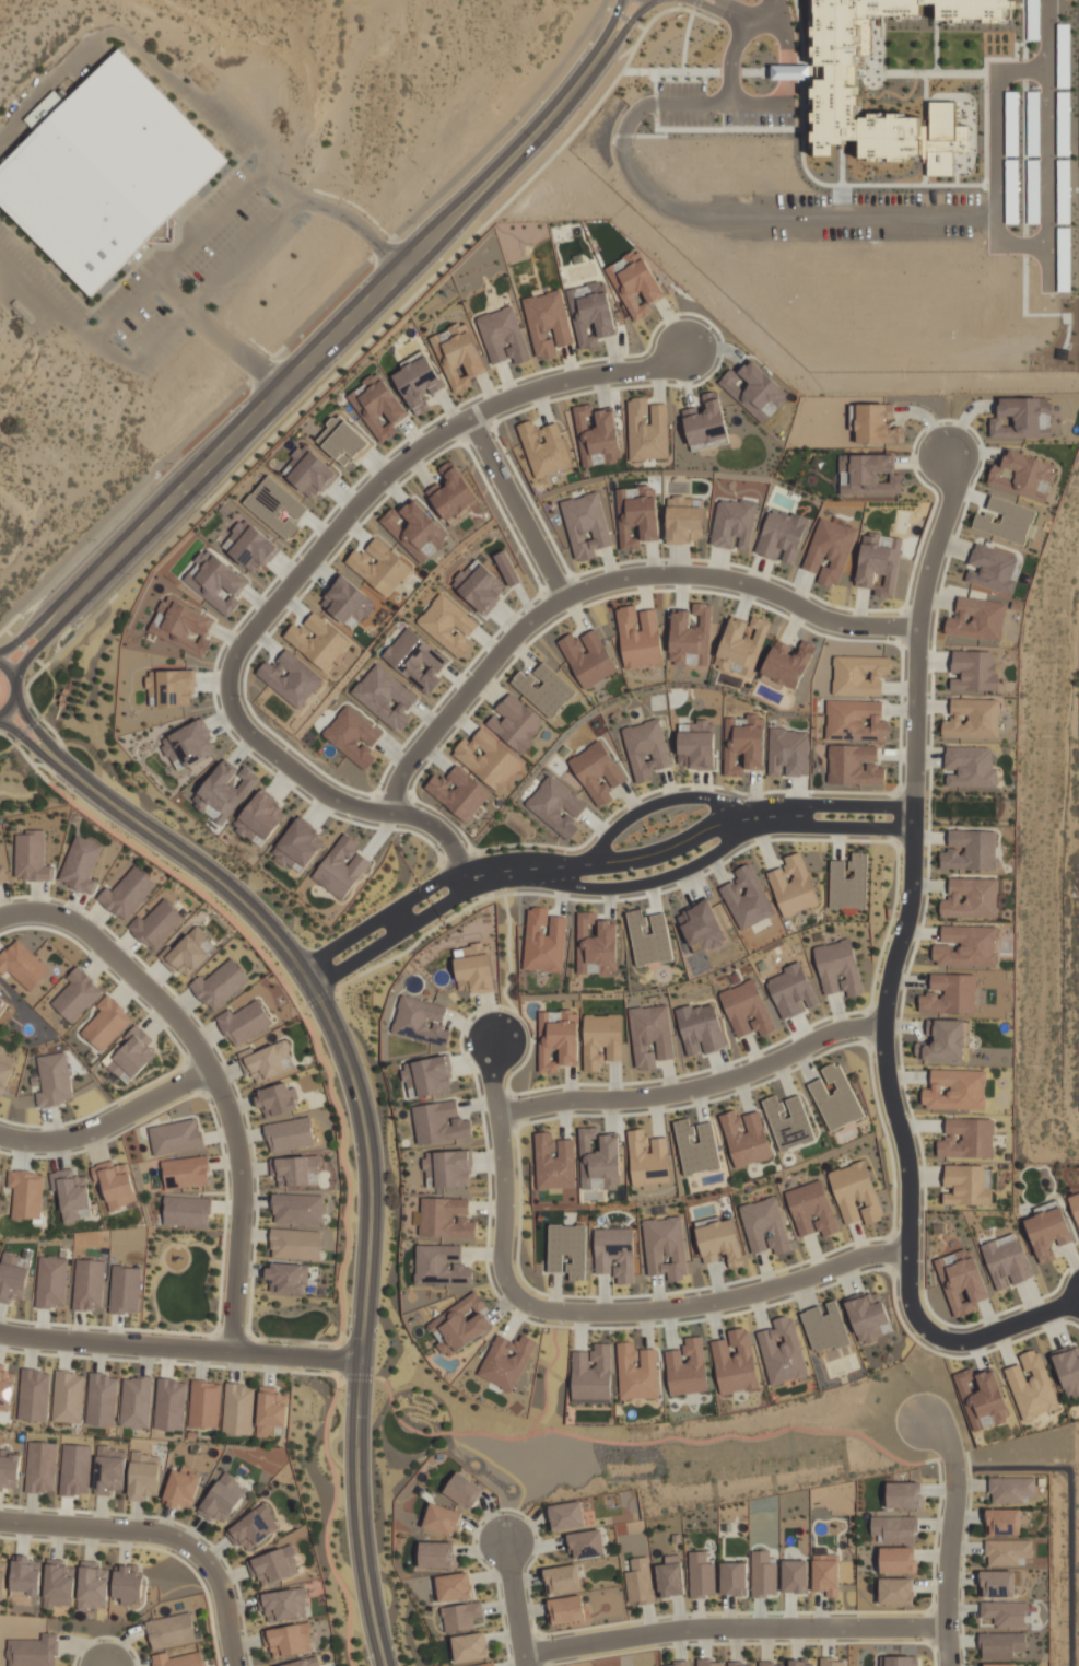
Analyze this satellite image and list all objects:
road: (693, 4)
road: (771, 8)
road: (746, 9)
road: (719, 12)
building: (1033, 12)
road: (655, 14)
road: (621, 16)
road: (607, 26)
road: (594, 31)
road: (621, 31)
road: (617, 56)
building: (789, 72)
building: (854, 92)
building: (44, 109)
building: (1011, 124)
building: (1033, 124)
building: (1063, 124)
road: (1045, 138)
building: (942, 139)
building: (104, 177)
building: (1011, 191)
building: (1033, 191)
building: (1063, 191)
road: (770, 215)
road: (200, 228)
road: (1007, 243)
building: (634, 283)
building: (590, 314)
road: (307, 319)
building: (547, 323)
road: (330, 324)
building: (503, 336)
road: (342, 342)
road: (352, 353)
building: (458, 354)
building: (418, 383)
building: (753, 391)
building: (378, 406)
building: (1025, 418)
building: (705, 422)
building: (646, 430)
building: (597, 436)
building: (342, 441)
building: (544, 448)
building: (308, 473)
building: (869, 475)
building: (1022, 476)
building: (453, 492)
building: (274, 506)
road: (520, 506)
building: (636, 515)
building: (683, 521)
building: (1006, 521)
building: (732, 524)
building: (585, 525)
building: (415, 531)
building: (781, 535)
building: (249, 547)
building: (829, 551)
building: (879, 563)
building: (379, 567)
building: (506, 568)
building: (992, 569)
road: (294, 579)
road: (606, 581)
building: (214, 582)
building: (479, 585)
road: (42, 602)
building: (348, 602)
building: (976, 619)
road: (33, 624)
building: (447, 625)
building: (181, 627)
road: (63, 630)
building: (690, 637)
building: (638, 638)
road: (917, 639)
building: (317, 641)
road: (40, 642)
building: (741, 645)
road: (21, 646)
building: (587, 657)
building: (415, 660)
building: (786, 664)
building: (974, 671)
building: (858, 675)
building: (291, 678)
building: (172, 687)
road: (14, 689)
building: (543, 689)
road: (51, 691)
road: (24, 692)
building: (384, 697)
building: (972, 719)
building: (855, 721)
building: (516, 723)
road: (23, 729)
road: (35, 730)
building: (352, 736)
building: (742, 744)
building: (188, 745)
building: (695, 745)
road: (31, 746)
road: (15, 747)
road: (59, 748)
building: (645, 749)
building: (787, 753)
building: (488, 759)
building: (853, 765)
building: (969, 766)
road: (46, 769)
road: (72, 771)
building: (597, 772)
road: (74, 779)
building: (224, 791)
building: (459, 792)
road: (660, 803)
road: (846, 803)
building: (555, 806)
building: (259, 818)
road: (847, 828)
building: (297, 846)
building: (969, 850)
road: (658, 851)
building: (31, 857)
building: (80, 864)
building: (341, 867)
building: (2, 877)
road: (646, 883)
building: (847, 883)
building: (793, 886)
building: (127, 893)
building: (747, 898)
building: (971, 898)
road: (407, 900)
road: (418, 922)
building: (157, 923)
building: (701, 928)
building: (648, 937)
building: (543, 942)
building: (596, 946)
building: (967, 946)
building: (190, 952)
building: (22, 965)
building: (473, 968)
building: (837, 968)
building: (220, 983)
building: (791, 991)
building: (77, 994)
building: (950, 994)
building: (1, 1004)
building: (746, 1009)
building: (420, 1021)
building: (244, 1022)
building: (106, 1023)
building: (700, 1028)
building: (649, 1035)
building: (558, 1038)
building: (601, 1040)
building: (942, 1040)
building: (130, 1055)
building: (267, 1061)
building: (5, 1070)
road: (212, 1073)
building: (432, 1075)
building: (54, 1080)
building: (409, 1080)
road: (699, 1087)
building: (955, 1090)
building: (835, 1097)
building: (275, 1099)
building: (787, 1121)
building: (439, 1122)
road: (109, 1123)
building: (289, 1134)
building: (175, 1137)
building: (744, 1138)
building: (966, 1139)
building: (695, 1147)
road: (912, 1156)
building: (648, 1158)
building: (599, 1161)
building: (554, 1162)
road: (365, 1168)
building: (447, 1168)
building: (0, 1170)
building: (297, 1170)
building: (185, 1173)
building: (114, 1184)
building: (965, 1185)
building: (25, 1193)
building: (70, 1193)
building: (855, 1193)
building: (1075, 1207)
building: (297, 1208)
building: (811, 1209)
building: (186, 1211)
building: (445, 1218)
building: (765, 1227)
building: (1047, 1233)
building: (719, 1243)
building: (294, 1244)
building: (665, 1247)
building: (566, 1250)
building: (613, 1254)
building: (1005, 1260)
building: (441, 1265)
building: (11, 1278)
building: (288, 1278)
building: (961, 1281)
building: (50, 1282)
building: (87, 1285)
building: (124, 1290)
road: (589, 1309)
building: (868, 1316)
building: (459, 1325)
building: (824, 1327)
road: (178, 1350)
building: (782, 1351)
building: (506, 1361)
building: (735, 1362)
building: (687, 1367)
building: (1068, 1368)
building: (636, 1372)
building: (591, 1375)
building: (1031, 1385)
building: (5, 1388)
building: (34, 1395)
building: (68, 1397)
building: (983, 1398)
building: (102, 1399)
building: (136, 1402)
building: (169, 1403)
building: (204, 1403)
building: (237, 1409)
building: (270, 1410)
building: (39, 1468)
building: (9, 1469)
building: (74, 1469)
building: (108, 1470)
building: (143, 1476)
building: (181, 1487)
building: (1011, 1490)
building: (462, 1491)
building: (904, 1494)
building: (222, 1499)
street lamp: (504, 1512)
building: (566, 1516)
building: (443, 1518)
building: (1002, 1522)
building: (253, 1527)
building: (893, 1528)
road: (162, 1534)
road: (951, 1538)
building: (586, 1543)
street lamp: (172, 1550)
building: (1008, 1552)
building: (437, 1554)
building: (896, 1560)
building: (275, 1565)
building: (762, 1574)
building: (825, 1574)
building: (700, 1575)
building: (24, 1576)
building: (669, 1576)
building: (794, 1576)
building: (732, 1578)
building: (562, 1580)
building: (2, 1581)
building: (638, 1582)
building: (58, 1583)
building: (127, 1584)
building: (997, 1584)
building: (92, 1585)
building: (454, 1586)
building: (895, 1591)
building: (284, 1605)
road: (516, 1605)
building: (566, 1609)
building: (1005, 1612)
building: (461, 1616)
road: (735, 1627)
building: (172, 1630)
street lamp: (553, 1636)
building: (290, 1640)
street lamp: (922, 1640)
building: (1000, 1644)
building: (470, 1647)
building: (34, 1651)
building: (178, 1659)
building: (900, 1661)
building: (832, 1662)
building: (303, 1663)
building: (680, 1663)
building: (709, 1663)
building: (801, 1663)
building: (486, 1664)
building: (739, 1664)
building: (770, 1664)
building: (999, 1664)

